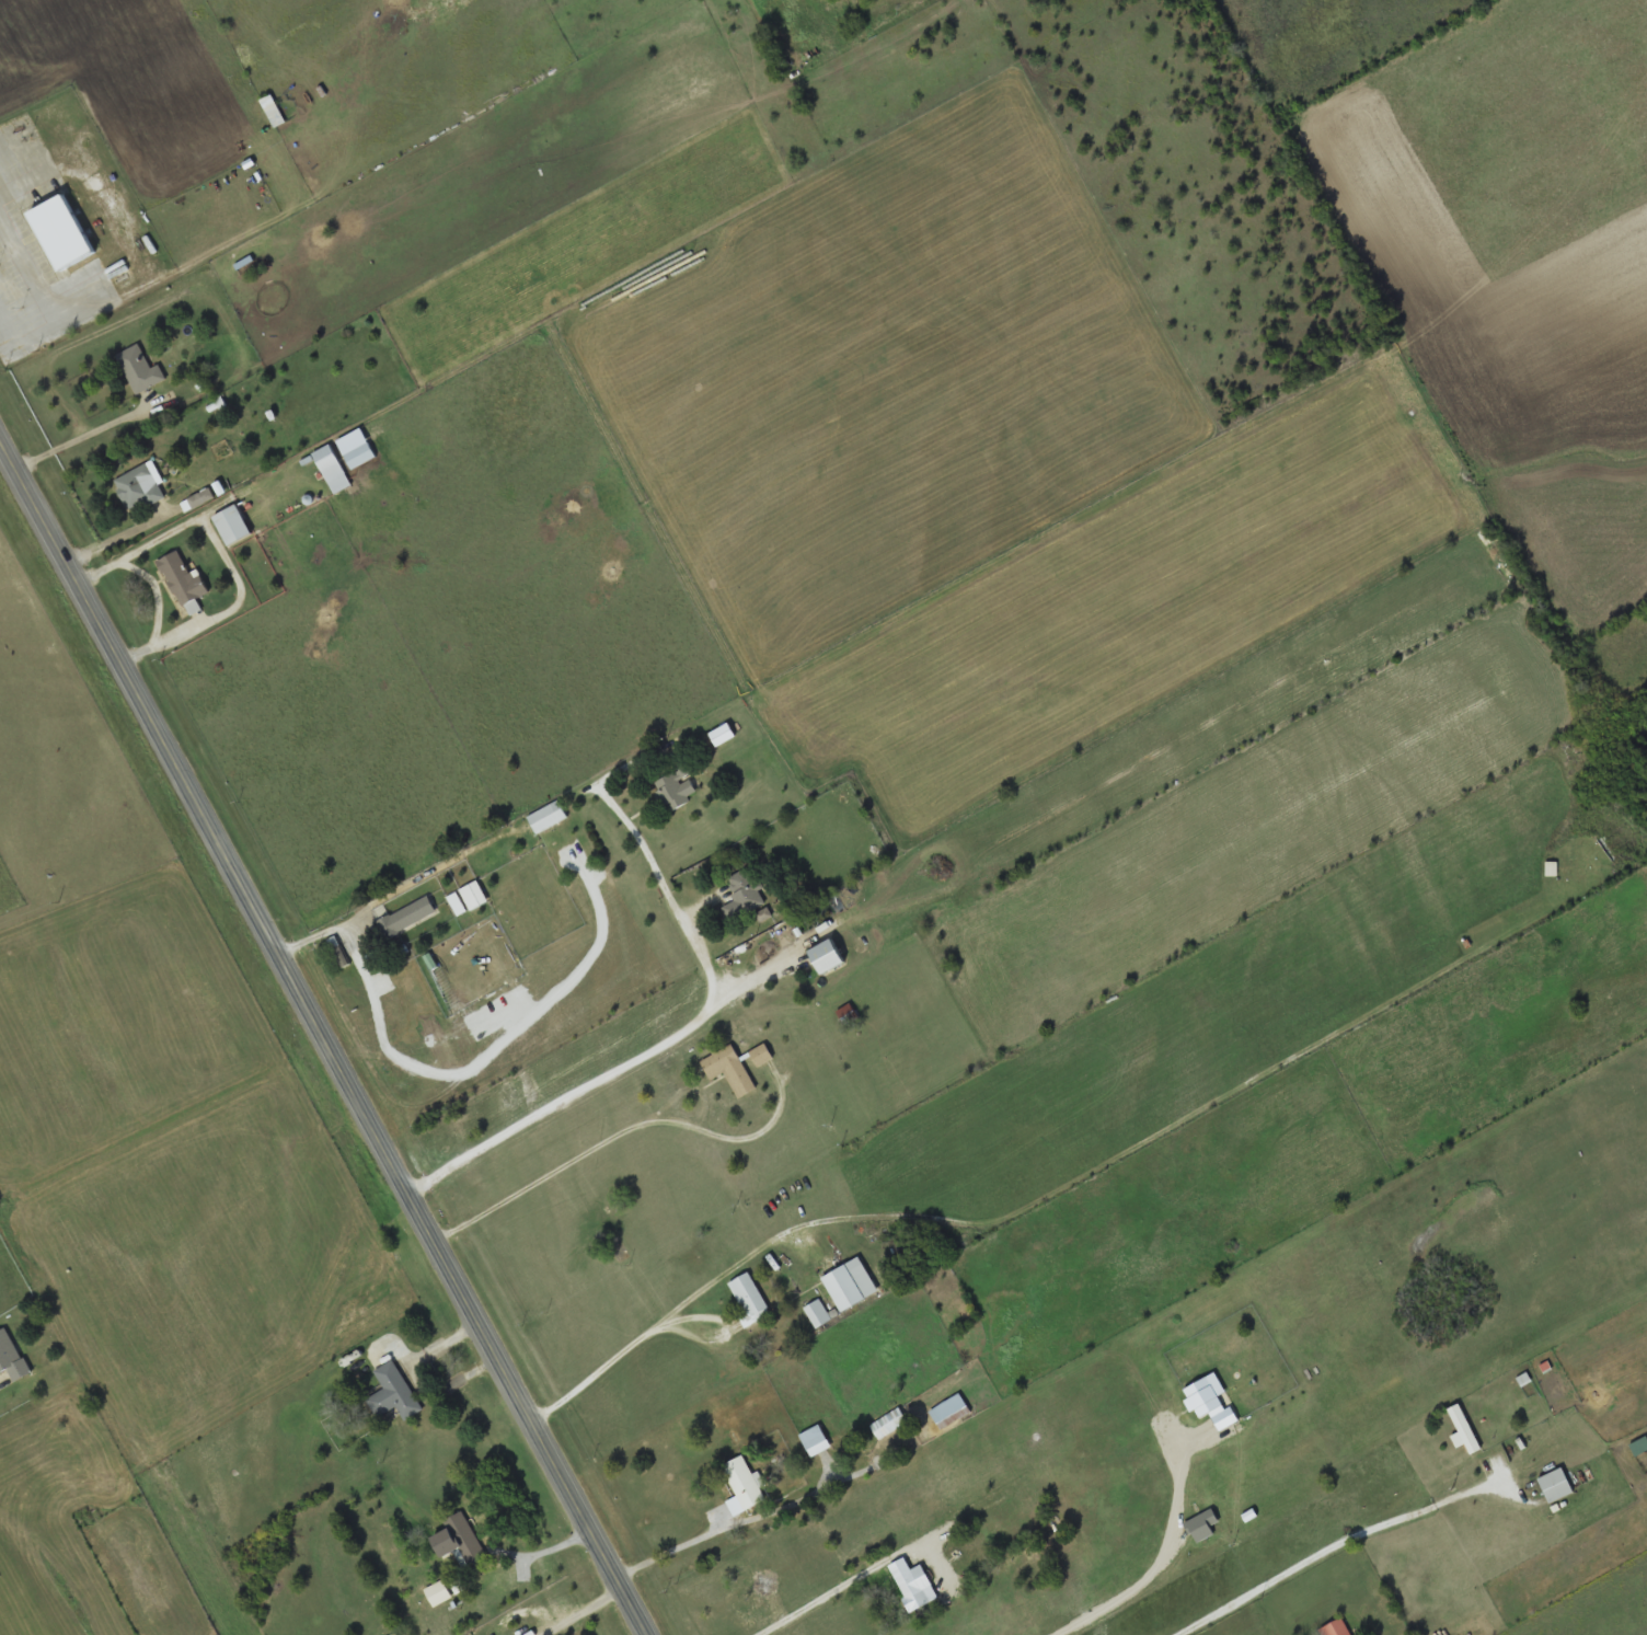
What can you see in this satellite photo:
building: (64, 234)
building: (139, 370)
building: (360, 457)
building: (332, 470)
building: (140, 487)
building: (233, 527)
building: (183, 580)
building: (676, 788)
building: (548, 817)
road: (506, 837)
building: (474, 896)
building: (742, 896)
building: (407, 917)
building: (341, 956)
building: (828, 956)
road: (322, 1040)
building: (761, 1055)
building: (729, 1070)
building: (851, 1285)
road: (1001, 1293)
building: (749, 1299)
building: (817, 1314)
building: (11, 1357)
building: (394, 1393)
building: (951, 1412)
building: (888, 1423)
building: (1465, 1431)
building: (816, 1441)
building: (1640, 1447)
building: (744, 1486)
building: (1557, 1486)
road: (1072, 1506)
building: (460, 1540)
building: (915, 1585)
building: (438, 1594)
building: (1337, 1628)
building: (396, 1634)

